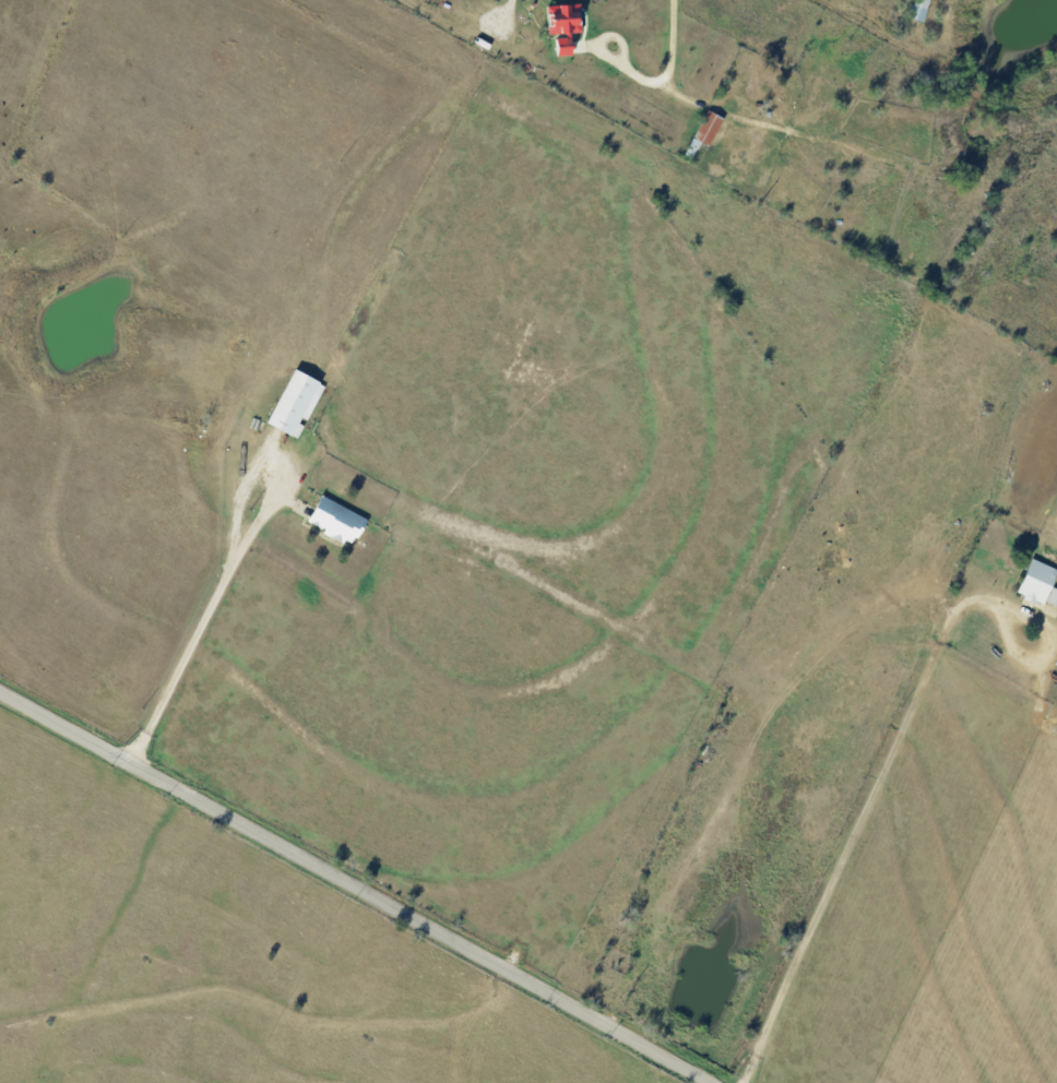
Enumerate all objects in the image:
road: (413, 0)
road: (518, 8)
building: (567, 24)
road: (679, 40)
building: (710, 127)
building: (297, 401)
building: (339, 519)
building: (1040, 581)
road: (206, 616)
road: (1045, 648)
road: (1042, 664)
road: (1037, 707)
road: (863, 820)
road: (346, 884)

